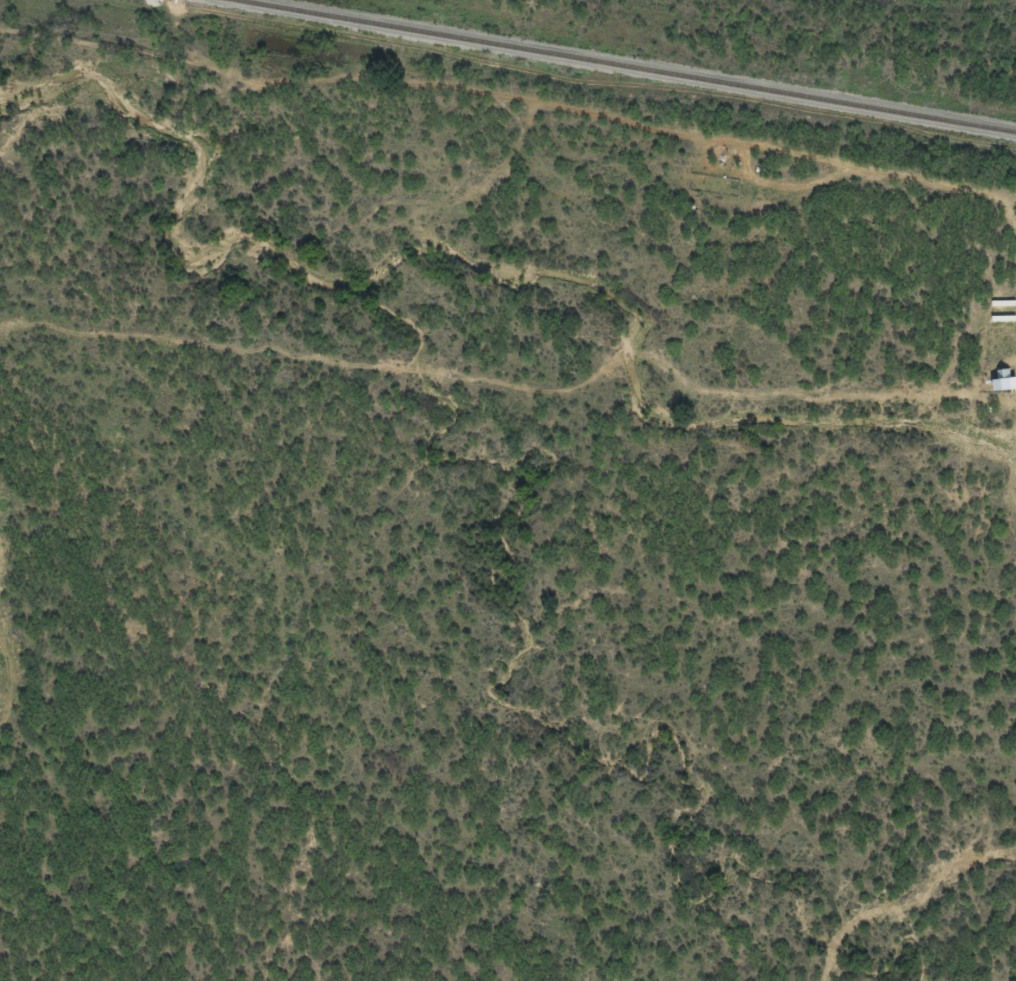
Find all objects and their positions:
railway: (629, 65)
road: (508, 106)
road: (12, 254)
road: (11, 577)
road: (1005, 737)

